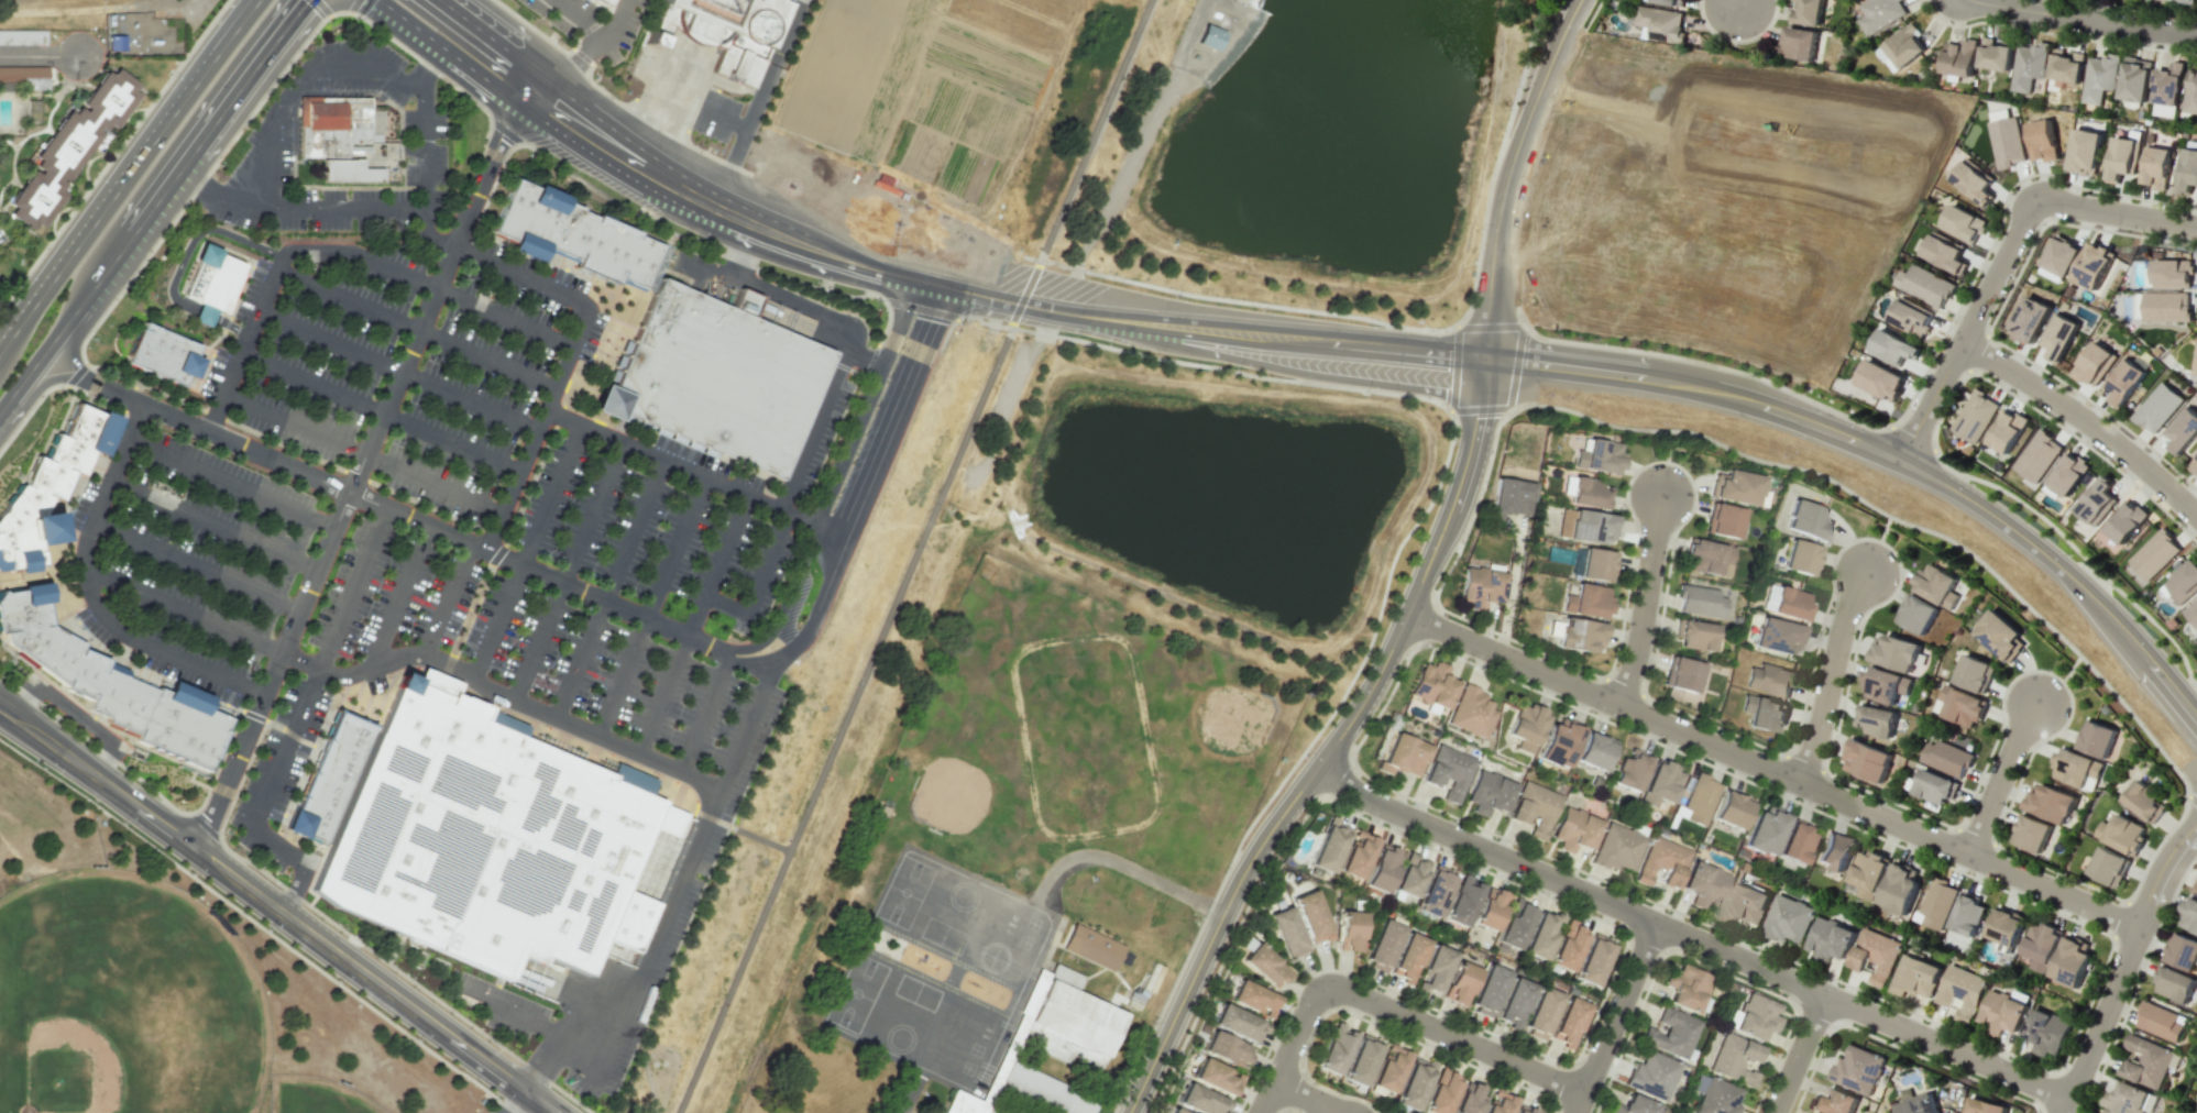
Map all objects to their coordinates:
building: (607, 1)
building: (2184, 1)
building: (1669, 2)
road: (1736, 2)
road: (358, 7)
road: (85, 8)
road: (319, 9)
road: (244, 10)
street lamp: (2130, 10)
building: (1805, 11)
road: (1572, 12)
building: (1878, 14)
road: (441, 15)
road: (598, 19)
road: (2084, 19)
building: (1661, 22)
road: (410, 24)
street lamp: (2017, 26)
street lamp: (1582, 27)
road: (596, 30)
building: (725, 30)
road: (538, 33)
building: (1208, 37)
street lamp: (1723, 41)
building: (117, 43)
building: (1799, 43)
building: (1903, 45)
road: (39, 55)
building: (1995, 57)
building: (1958, 58)
building: (2026, 66)
building: (2065, 66)
road: (578, 71)
street lamp: (168, 74)
road: (252, 76)
building: (25, 77)
building: (2098, 77)
road: (299, 78)
building: (2134, 79)
street lamp: (1524, 85)
building: (2166, 90)
building: (2190, 91)
road: (260, 101)
road: (617, 101)
road: (757, 104)
road: (664, 115)
crop: (936, 123)
parking lot: (426, 129)
road: (1108, 129)
building: (352, 136)
building: (2042, 140)
building: (2006, 141)
road: (421, 148)
building: (2084, 151)
building: (78, 152)
road: (1084, 153)
road: (113, 155)
road: (712, 156)
building: (2121, 157)
road: (128, 167)
building: (2155, 167)
building: (2188, 167)
building: (345, 175)
building: (1973, 180)
road: (195, 185)
road: (1117, 188)
road: (1502, 189)
road: (681, 191)
road: (164, 194)
road: (317, 210)
road: (2116, 211)
building: (1962, 222)
building: (570, 232)
road: (1822, 232)
road: (699, 244)
road: (519, 247)
building: (1944, 252)
road: (343, 253)
building: (2061, 256)
road: (183, 258)
road: (658, 265)
building: (2092, 266)
road: (711, 268)
building: (2171, 273)
building: (219, 276)
building: (1924, 285)
road: (545, 290)
road: (91, 296)
road: (783, 297)
street lamp: (1519, 302)
building: (2165, 307)
building: (1911, 317)
street lamp: (1954, 318)
building: (2028, 319)
road: (1967, 328)
street lamp: (1427, 330)
road: (415, 331)
road: (924, 333)
building: (2057, 335)
road: (1212, 338)
street lamp: (1604, 342)
building: (1893, 346)
road: (604, 351)
building: (162, 356)
building: (2092, 364)
street lamp: (1744, 368)
road: (397, 372)
road: (76, 375)
building: (718, 377)
building: (1880, 379)
building: (2124, 382)
road: (24, 386)
street lamp: (1364, 390)
street lamp: (2011, 390)
building: (2157, 407)
street lamp: (1533, 409)
road: (30, 411)
road: (378, 415)
building: (1975, 416)
road: (2085, 421)
building: (2183, 430)
building: (2007, 431)
road: (668, 436)
road: (1887, 450)
road: (296, 451)
road: (527, 453)
road: (361, 455)
building: (1600, 455)
street lamp: (1782, 455)
building: (2037, 455)
road: (1666, 463)
building: (2194, 463)
road: (359, 471)
road: (689, 471)
building: (2067, 474)
road: (800, 475)
street lamp: (1971, 483)
road: (233, 485)
building: (45, 487)
street lamp: (1484, 487)
building: (1736, 487)
building: (1588, 493)
building: (1509, 498)
building: (2096, 500)
street lamp: (1891, 504)
road: (410, 515)
building: (1723, 520)
building: (1808, 521)
building: (2125, 522)
road: (838, 524)
road: (1413, 525)
road: (215, 527)
building: (1589, 527)
road: (1878, 543)
road: (524, 553)
street lamp: (2068, 553)
building: (2154, 554)
parking lot: (448, 555)
road: (912, 556)
building: (1800, 558)
building: (1709, 559)
building: (1594, 564)
road: (197, 567)
street lamp: (1982, 569)
road: (567, 572)
building: (2184, 582)
road: (1509, 585)
building: (1936, 585)
building: (1479, 588)
road: (609, 589)
road: (90, 594)
road: (402, 595)
building: (1585, 600)
road: (1644, 600)
road: (448, 602)
building: (1699, 602)
building: (1789, 604)
road: (651, 608)
road: (68, 609)
road: (183, 613)
building: (2194, 613)
building: (1918, 615)
road: (692, 625)
building: (1579, 635)
building: (1695, 636)
building: (1777, 636)
building: (2001, 636)
street lamp: (2063, 646)
building: (1897, 653)
street lamp: (1469, 660)
street lamp: (2051, 670)
road: (443, 672)
building: (1975, 673)
building: (1681, 674)
road: (1828, 676)
building: (1769, 680)
road: (2059, 681)
building: (106, 684)
building: (1431, 685)
building: (1885, 685)
road: (311, 686)
street lamp: (1352, 687)
road: (502, 695)
building: (1962, 706)
road: (847, 708)
street lamp: (1591, 710)
building: (1470, 712)
road: (704, 714)
building: (1764, 714)
building: (1876, 720)
road: (105, 726)
building: (1525, 727)
street lamp: (2138, 728)
park: (1085, 732)
street lamp: (2050, 739)
building: (2097, 739)
building: (1558, 743)
road: (96, 749)
road: (1330, 749)
building: (1593, 750)
street lamp: (1304, 754)
building: (1403, 754)
building: (1946, 757)
road: (619, 760)
building: (1868, 760)
road: (219, 761)
building: (1630, 770)
road: (1770, 770)
building: (1447, 773)
road: (241, 776)
building: (325, 778)
road: (1999, 778)
building: (1659, 784)
building: (1935, 786)
building: (1487, 794)
street lamp: (1798, 798)
building: (1696, 801)
street lamp: (1888, 802)
building: (2144, 802)
building: (2052, 804)
building: (1533, 808)
building: (1731, 809)
street lamp: (1365, 815)
street lamp: (1297, 818)
road: (206, 823)
building: (1573, 830)
building: (1764, 830)
building: (2032, 833)
street lamp: (2163, 834)
building: (2124, 835)
street lamp: (1495, 836)
building: (490, 839)
building: (1794, 842)
building: (1329, 845)
building: (1615, 848)
building: (1834, 851)
building: (1355, 855)
building: (1660, 862)
building: (2109, 866)
road: (1122, 867)
building: (1381, 869)
street lamp: (1968, 872)
building: (1409, 875)
building: (1702, 884)
building: (1900, 888)
park: (904, 891)
building: (1433, 892)
building: (2196, 892)
building: (1461, 901)
building: (1745, 903)
building: (1936, 903)
building: (1489, 908)
road: (277, 912)
building: (1967, 914)
street lamp: (2167, 915)
building: (2189, 915)
street lamp: (2072, 916)
building: (1310, 917)
building: (1788, 919)
road: (257, 926)
building: (2004, 926)
building: (1513, 927)
building: (1349, 930)
building: (1286, 933)
road: (657, 935)
building: (1539, 935)
road: (1690, 937)
building: (1830, 939)
building: (1088, 944)
building: (1382, 945)
building: (2040, 945)
building: (2183, 951)
building: (1876, 955)
building: (1407, 957)
building: (1592, 959)
building: (2070, 961)
road: (2122, 962)
building: (1263, 966)
building: (1433, 969)
road: (400, 974)
street lamp: (1211, 976)
building: (1151, 977)
street lamp: (1353, 977)
building: (1916, 977)
building: (1458, 983)
street lamp: (1838, 983)
building: (2175, 984)
building: (1685, 988)
building: (1487, 990)
park: (856, 992)
street lamp: (1607, 992)
building: (1962, 992)
building: (1135, 996)
building: (1253, 999)
park: (124, 1000)
street lamp: (1293, 1000)
building: (1513, 1003)
street lamp: (2089, 1007)
road: (1388, 1011)
building: (2002, 1011)
building: (1539, 1013)
road: (1614, 1017)
building: (1756, 1017)
building: (1072, 1018)
building: (1568, 1022)
building: (2160, 1022)
building: (1237, 1023)
building: (2045, 1032)
building: (1669, 1033)
park: (2194, 1044)
street lamp: (1902, 1045)
building: (1226, 1049)
building: (1333, 1049)
street lamp: (1442, 1049)
street lamp: (1175, 1053)
street lamp: (1781, 1053)
road: (1799, 1054)
street lamp: (1538, 1055)
street lamp: (2010, 1056)
building: (1733, 1059)
building: (1361, 1060)
building: (2146, 1061)
road: (541, 1064)
building: (1388, 1068)
building: (1858, 1068)
building: (1651, 1073)
building: (1216, 1077)
building: (1413, 1084)
building: (1041, 1090)
road: (1301, 1093)
building: (1440, 1094)
park: (315, 1095)
road: (907, 1097)
building: (1716, 1098)
park: (2190, 1098)
building: (2127, 1099)
building: (1200, 1100)
building: (1468, 1100)
road: (520, 1102)
building: (1833, 1103)
building: (959, 1104)
building: (1498, 1105)
building: (1915, 1105)
building: (1986, 1106)
building: (990, 1109)
building: (1524, 1110)
building: (1168, 1112)
street lamp: (2080, 1112)

